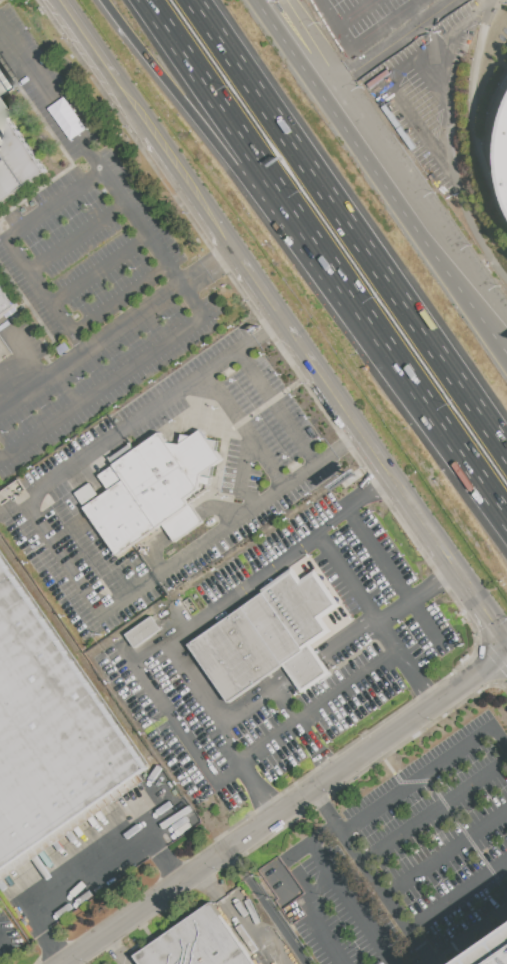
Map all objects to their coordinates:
road: (415, 18)
road: (340, 22)
road: (373, 33)
road: (91, 37)
road: (401, 40)
road: (448, 40)
road: (328, 59)
parking lot: (414, 67)
building: (3, 85)
road: (477, 101)
road: (136, 102)
road: (424, 138)
road: (246, 140)
road: (219, 145)
road: (500, 145)
road: (92, 152)
building: (506, 157)
stadium: (506, 157)
building: (17, 160)
road: (381, 176)
road: (195, 188)
building: (506, 208)
road: (351, 224)
road: (77, 237)
road: (9, 248)
road: (212, 268)
road: (102, 272)
parking lot: (91, 276)
road: (257, 277)
road: (120, 299)
building: (7, 300)
road: (281, 311)
road: (93, 350)
road: (23, 358)
road: (319, 366)
road: (119, 378)
road: (425, 398)
road: (287, 421)
road: (369, 438)
road: (340, 446)
building: (152, 489)
road: (14, 510)
road: (434, 531)
road: (76, 576)
road: (396, 577)
road: (418, 591)
road: (496, 617)
road: (197, 620)
building: (143, 631)
building: (271, 636)
road: (325, 650)
road: (379, 664)
road: (419, 676)
road: (286, 703)
road: (173, 720)
building: (50, 734)
road: (428, 770)
road: (330, 807)
road: (287, 808)
road: (435, 808)
road: (448, 852)
road: (288, 855)
parking lot: (400, 855)
road: (86, 868)
road: (324, 885)
road: (458, 892)
road: (390, 896)
road: (353, 902)
road: (269, 906)
road: (243, 917)
road: (324, 932)
road: (1, 937)
road: (470, 937)
road: (1, 939)
building: (196, 943)
road: (117, 949)
building: (493, 955)

